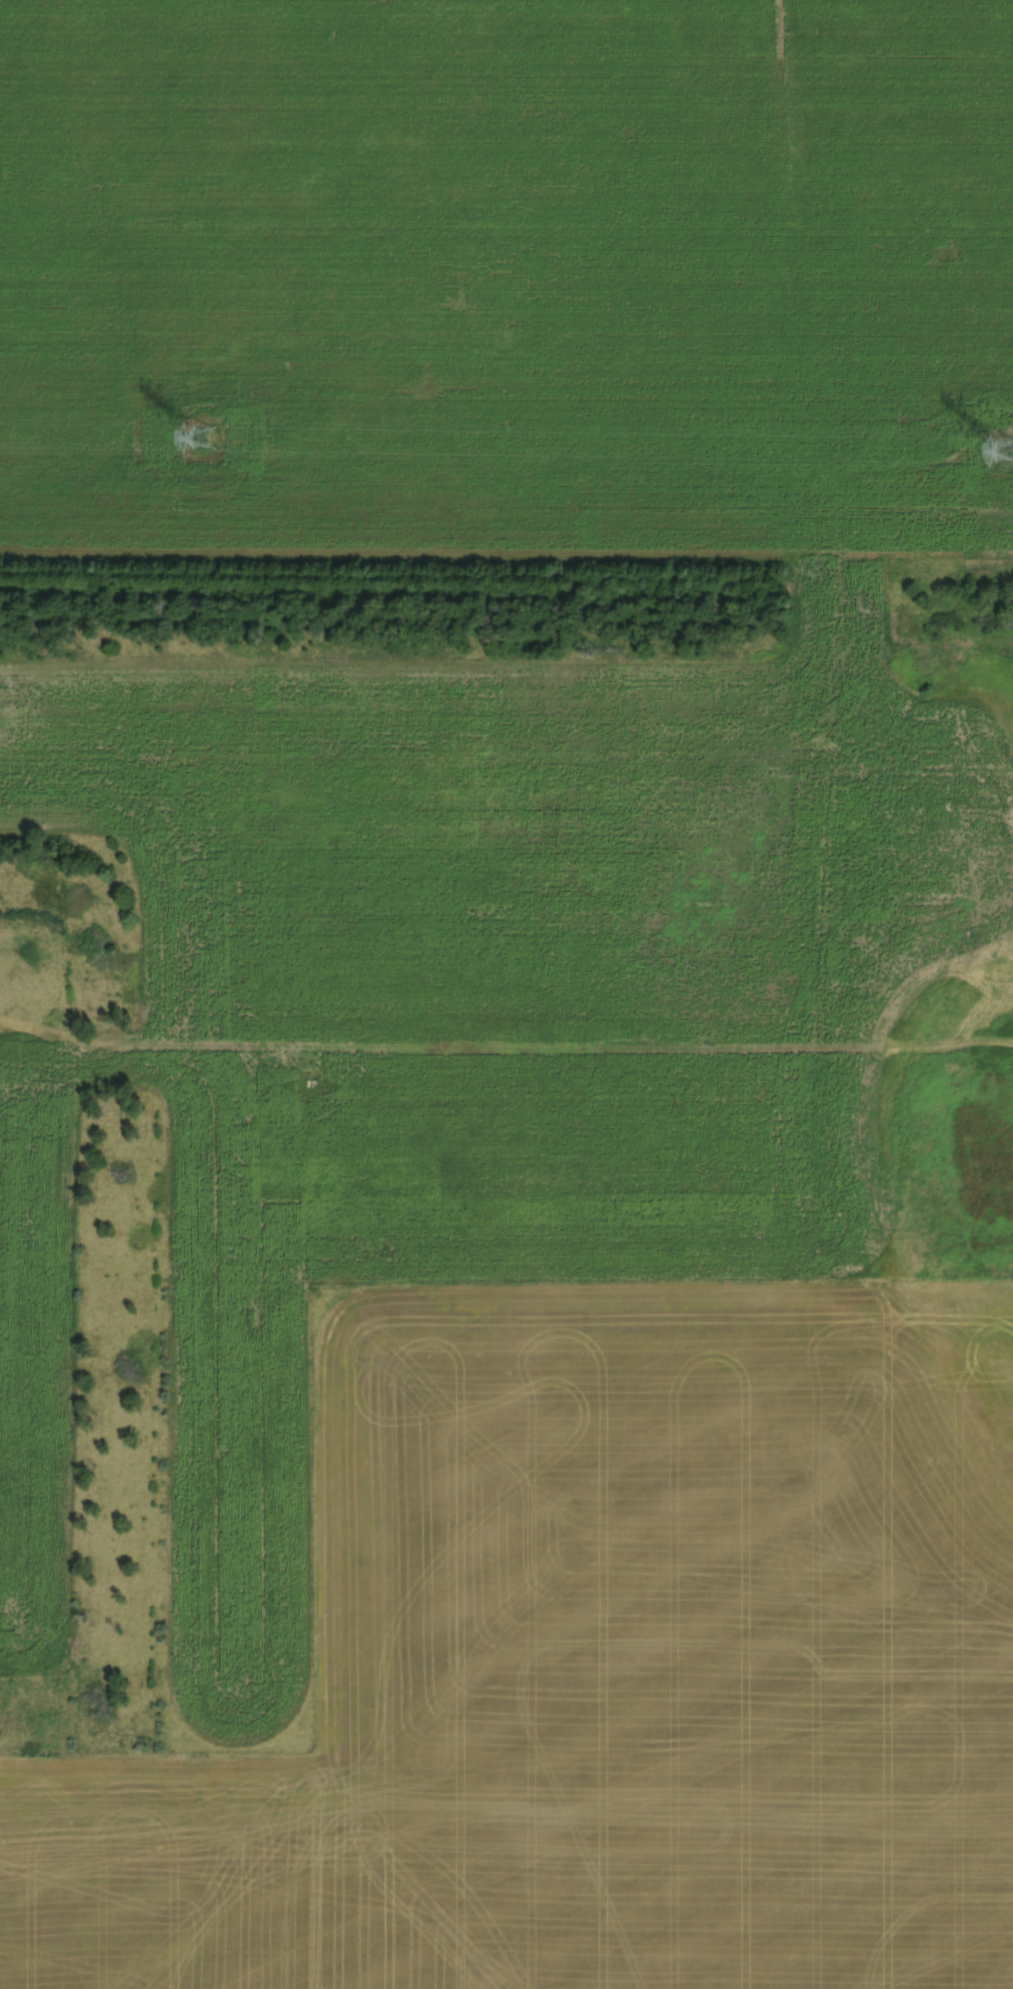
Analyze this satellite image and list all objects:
power tower: (199, 436)
power tower: (1006, 451)

